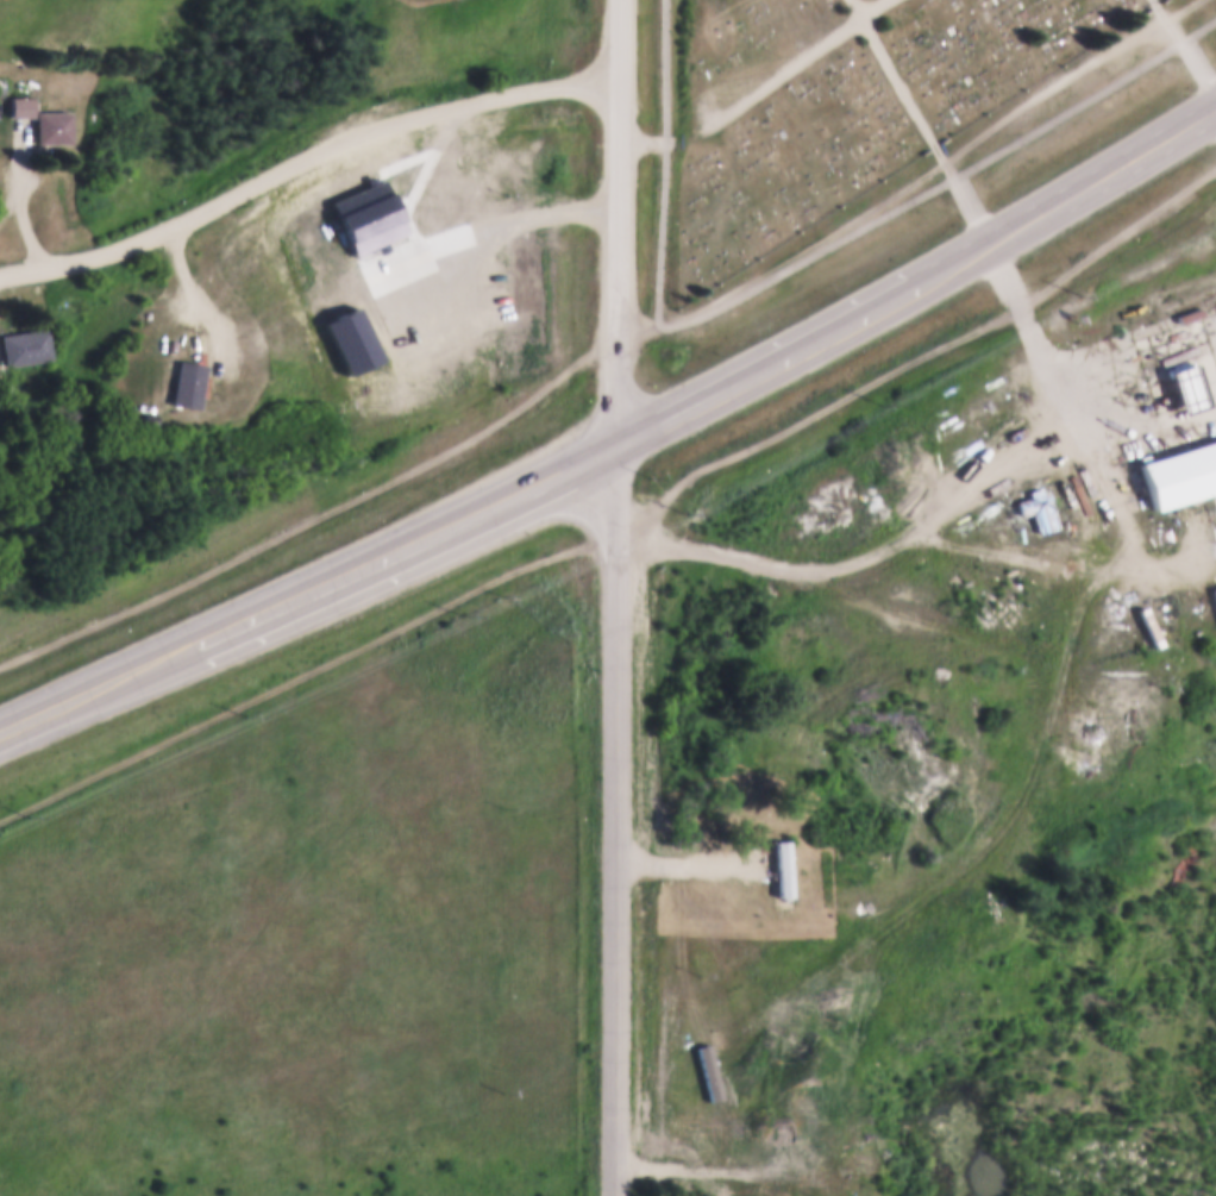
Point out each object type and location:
road: (858, 7)
road: (873, 7)
road: (1186, 40)
road: (750, 100)
building: (19, 105)
building: (50, 125)
road: (928, 126)
road: (1154, 146)
road: (664, 165)
road: (308, 167)
road: (941, 184)
road: (23, 194)
road: (1003, 233)
road: (639, 337)
building: (23, 344)
road: (767, 364)
building: (183, 382)
building: (1183, 384)
gas station: (1183, 384)
road: (1070, 399)
building: (1178, 471)
building: (1036, 507)
road: (1105, 521)
road: (408, 543)
road: (876, 569)
road: (620, 597)
road: (96, 683)
building: (840, 854)
road: (695, 864)
building: (783, 870)
road: (696, 1172)
building: (800, 1175)

